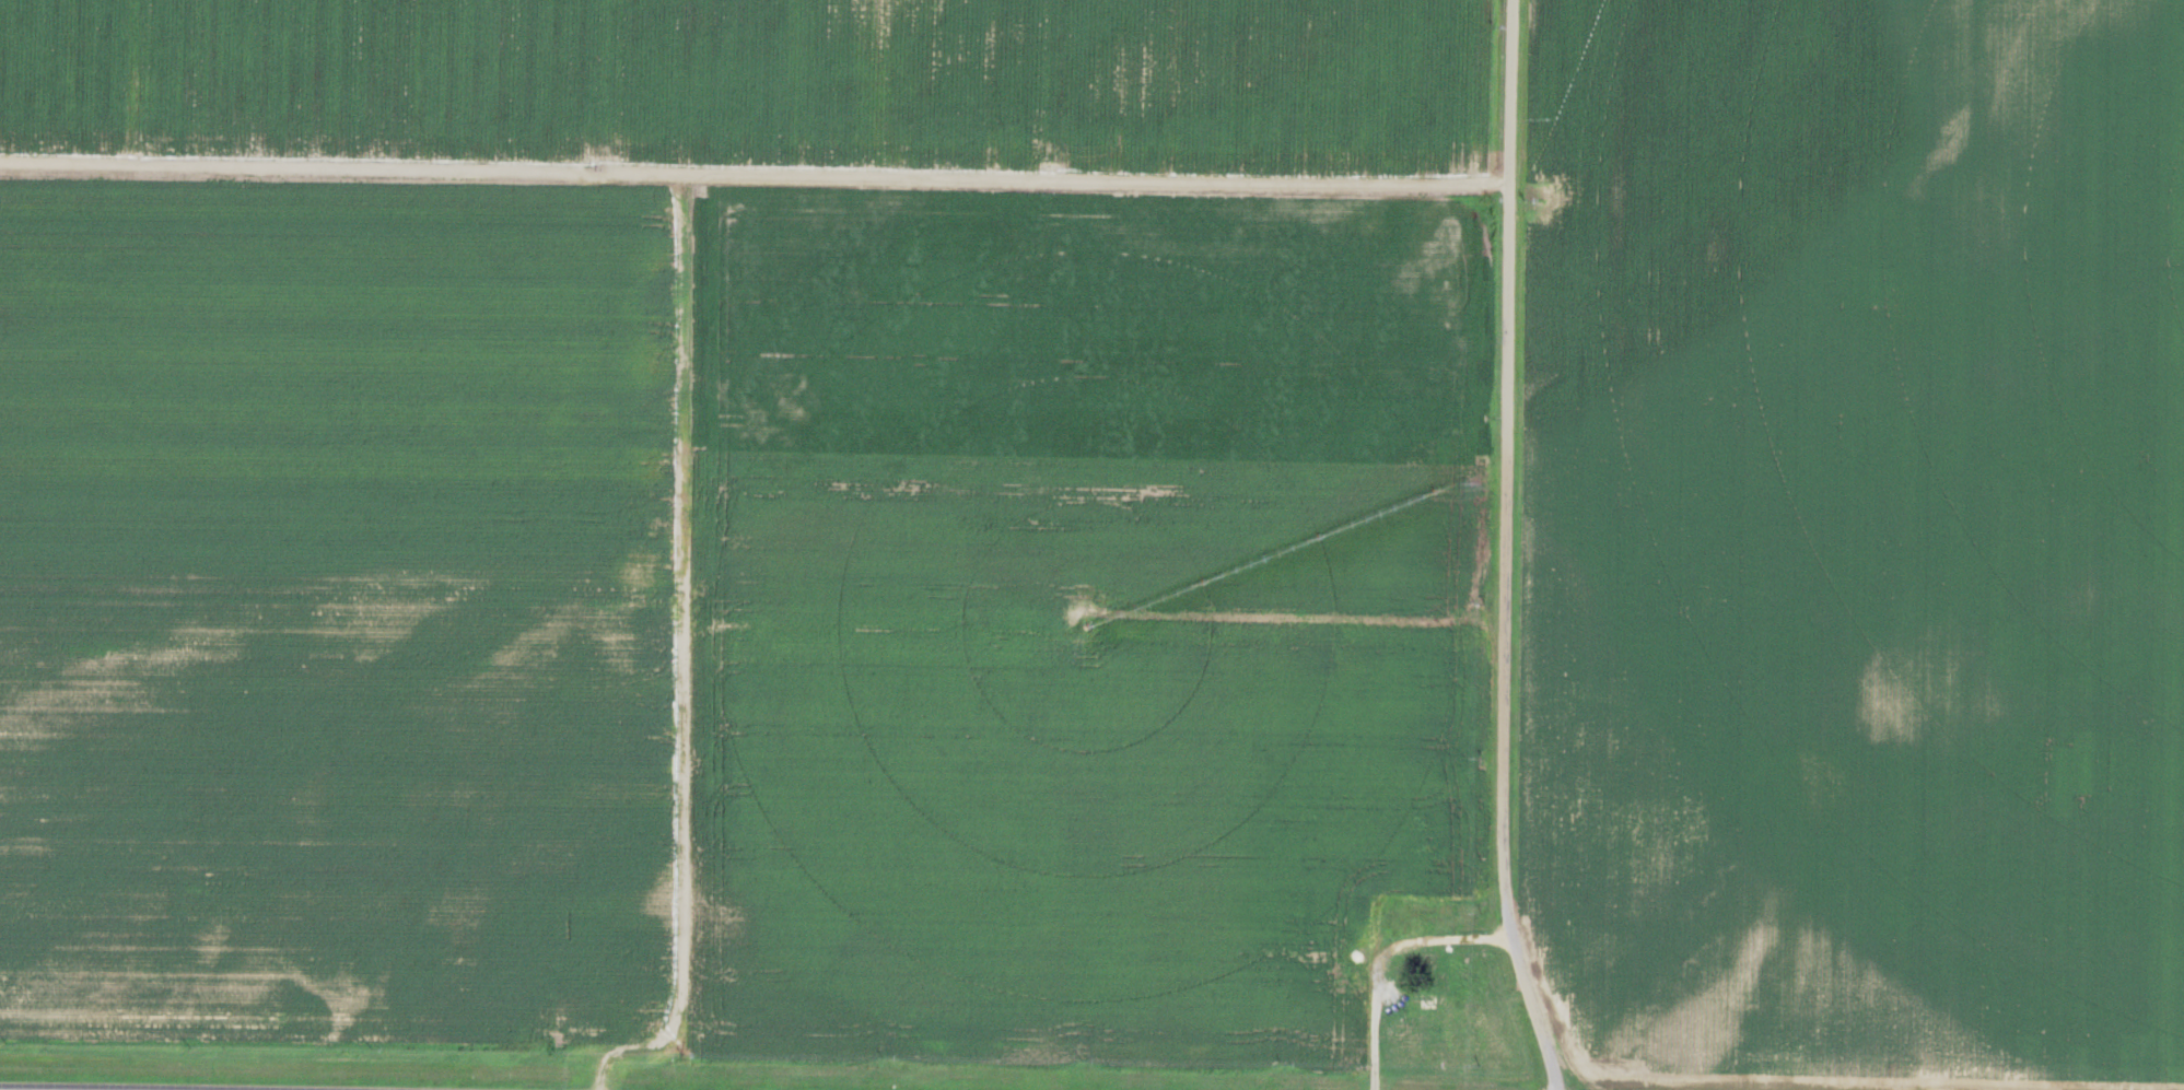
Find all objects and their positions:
road: (1507, 548)
road: (1382, 952)

